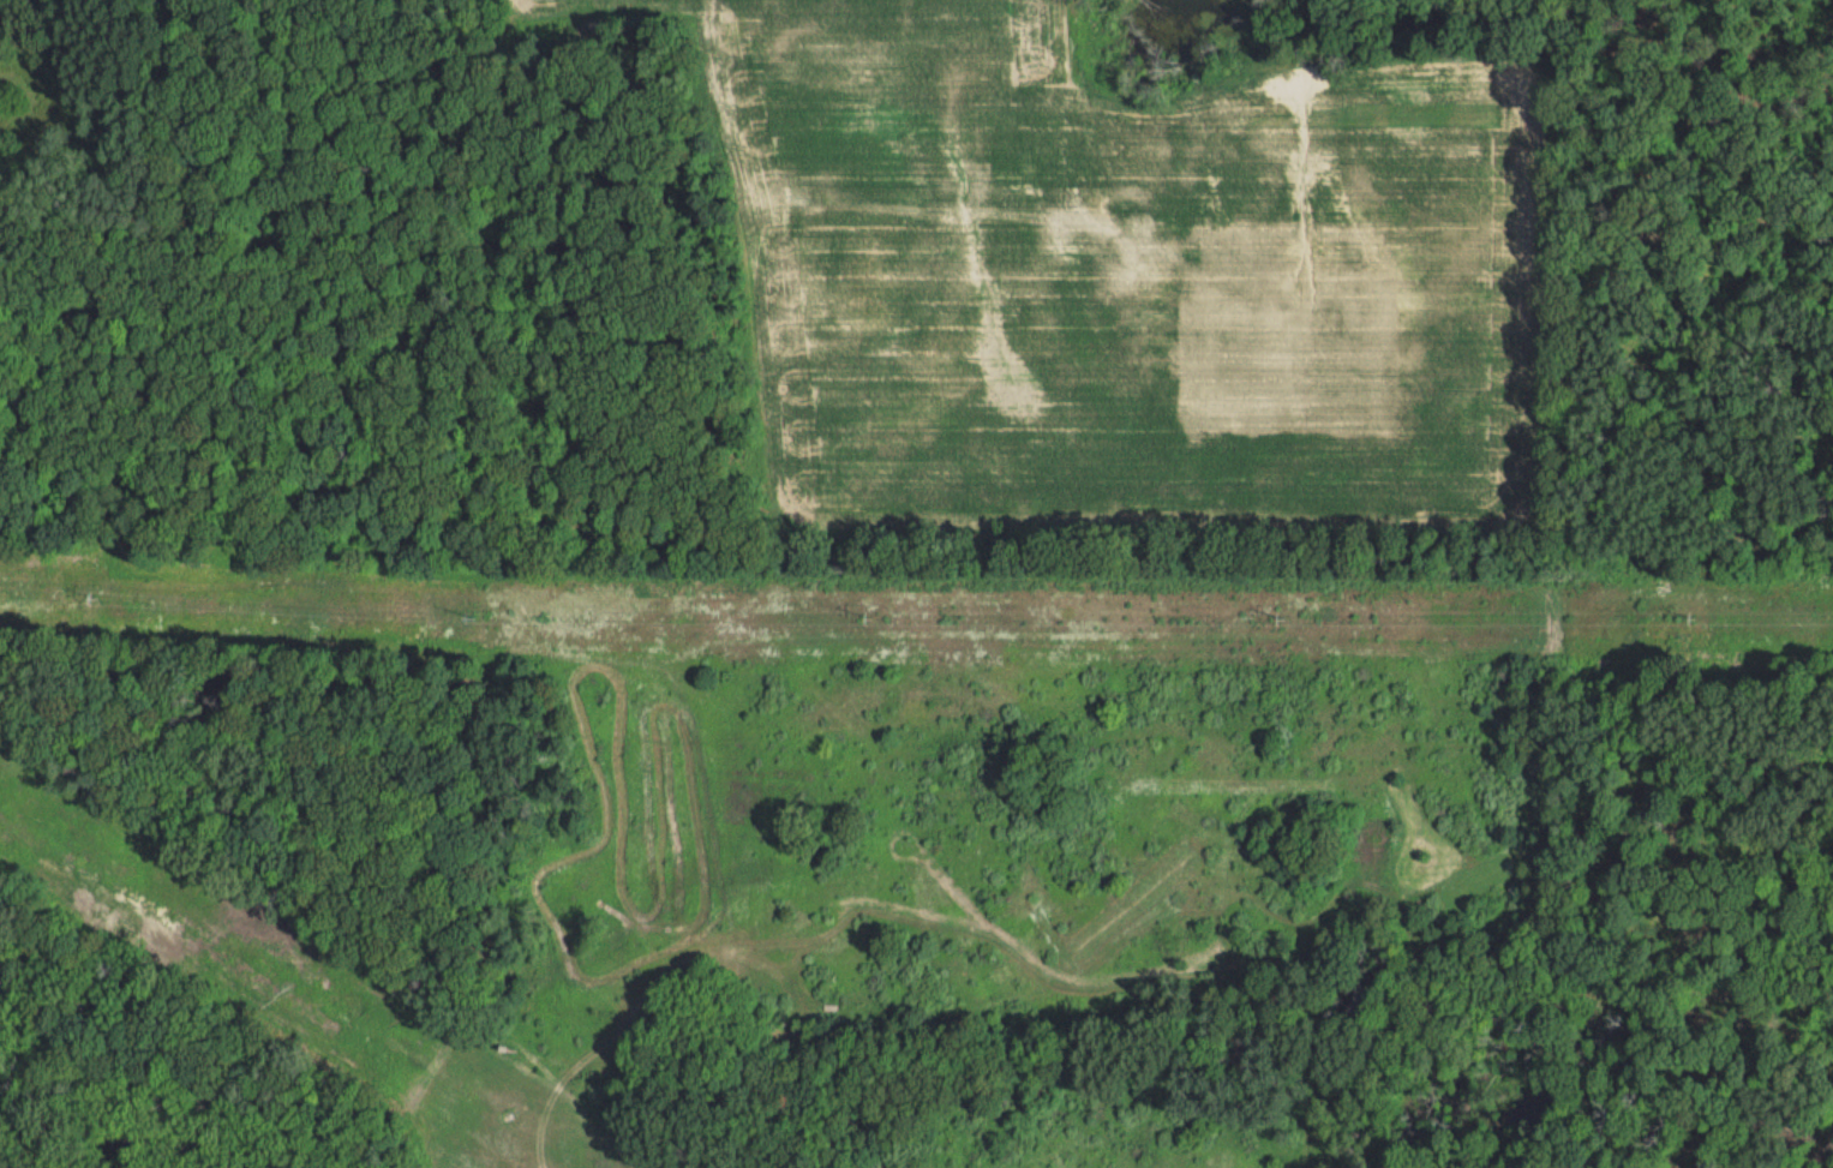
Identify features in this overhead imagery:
power tower: (96, 595)
power tower: (461, 613)
power tower: (869, 618)
power tower: (1281, 618)
power tower: (1678, 618)

